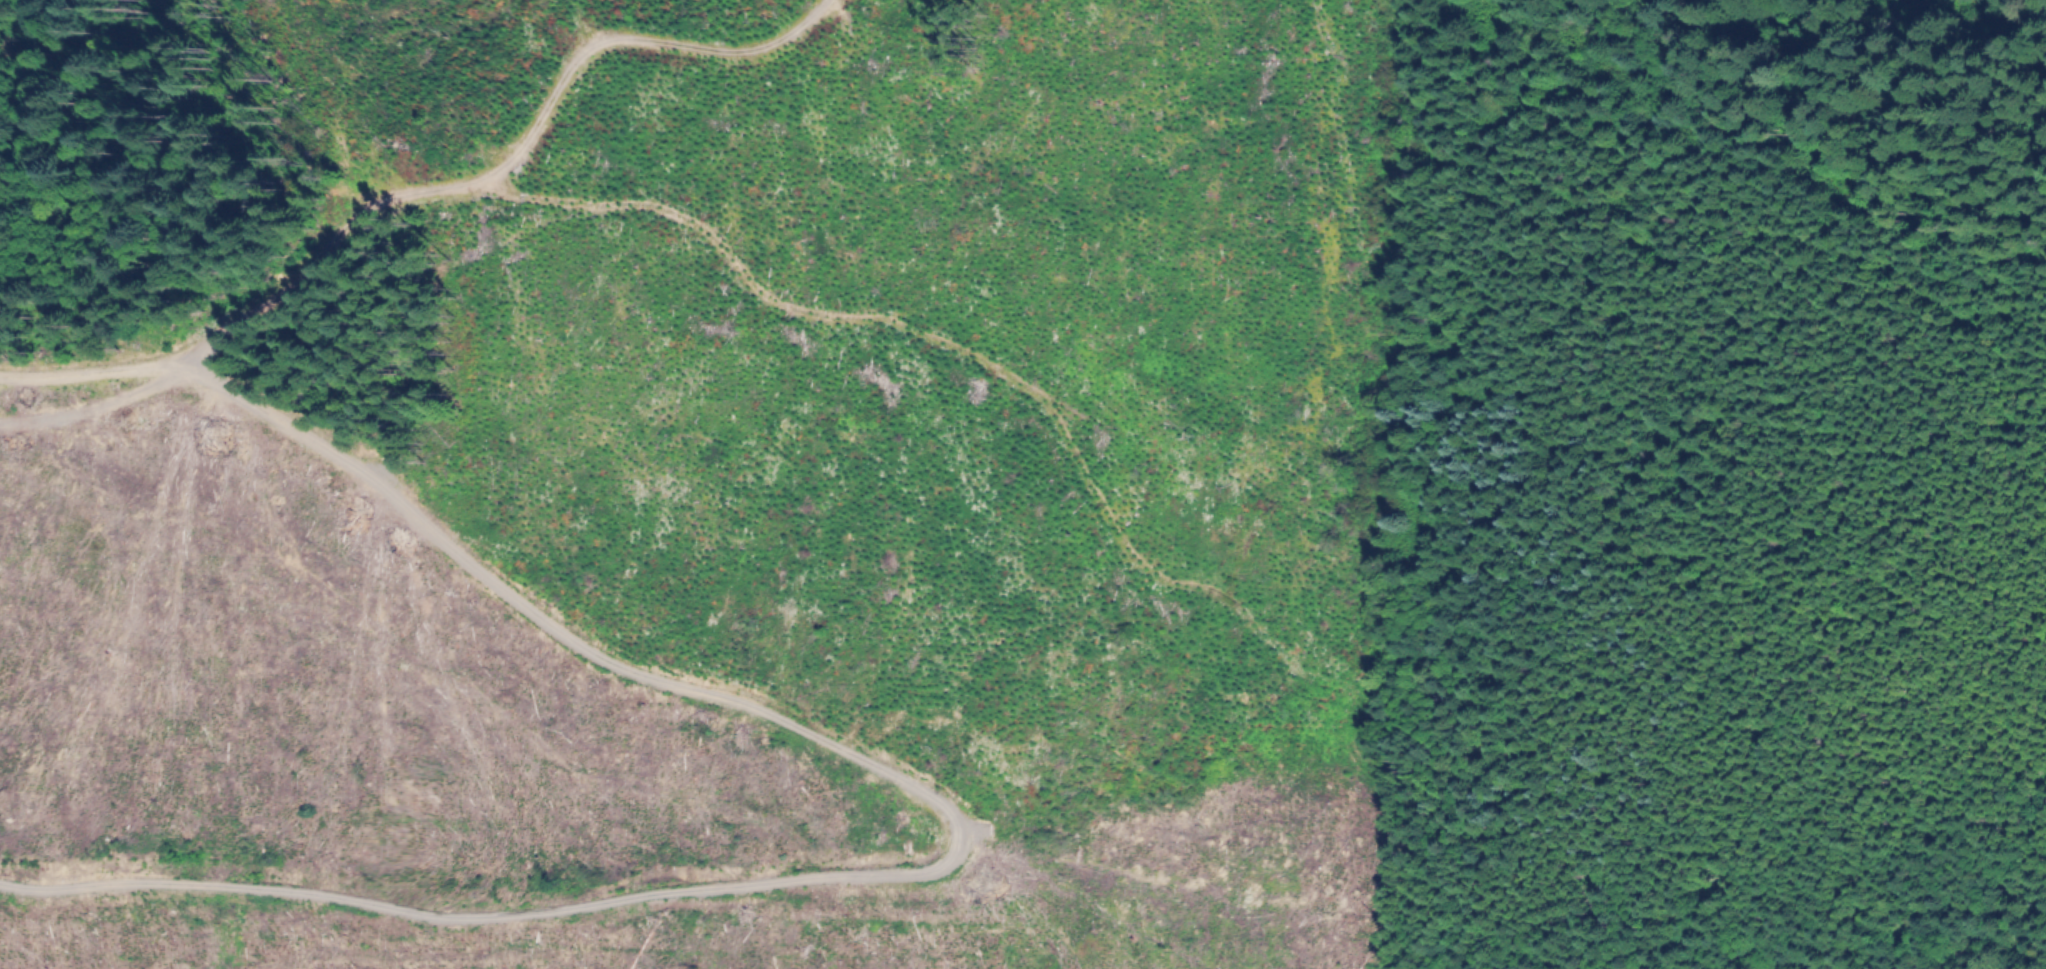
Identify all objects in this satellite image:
road: (100, 364)
road: (655, 680)

